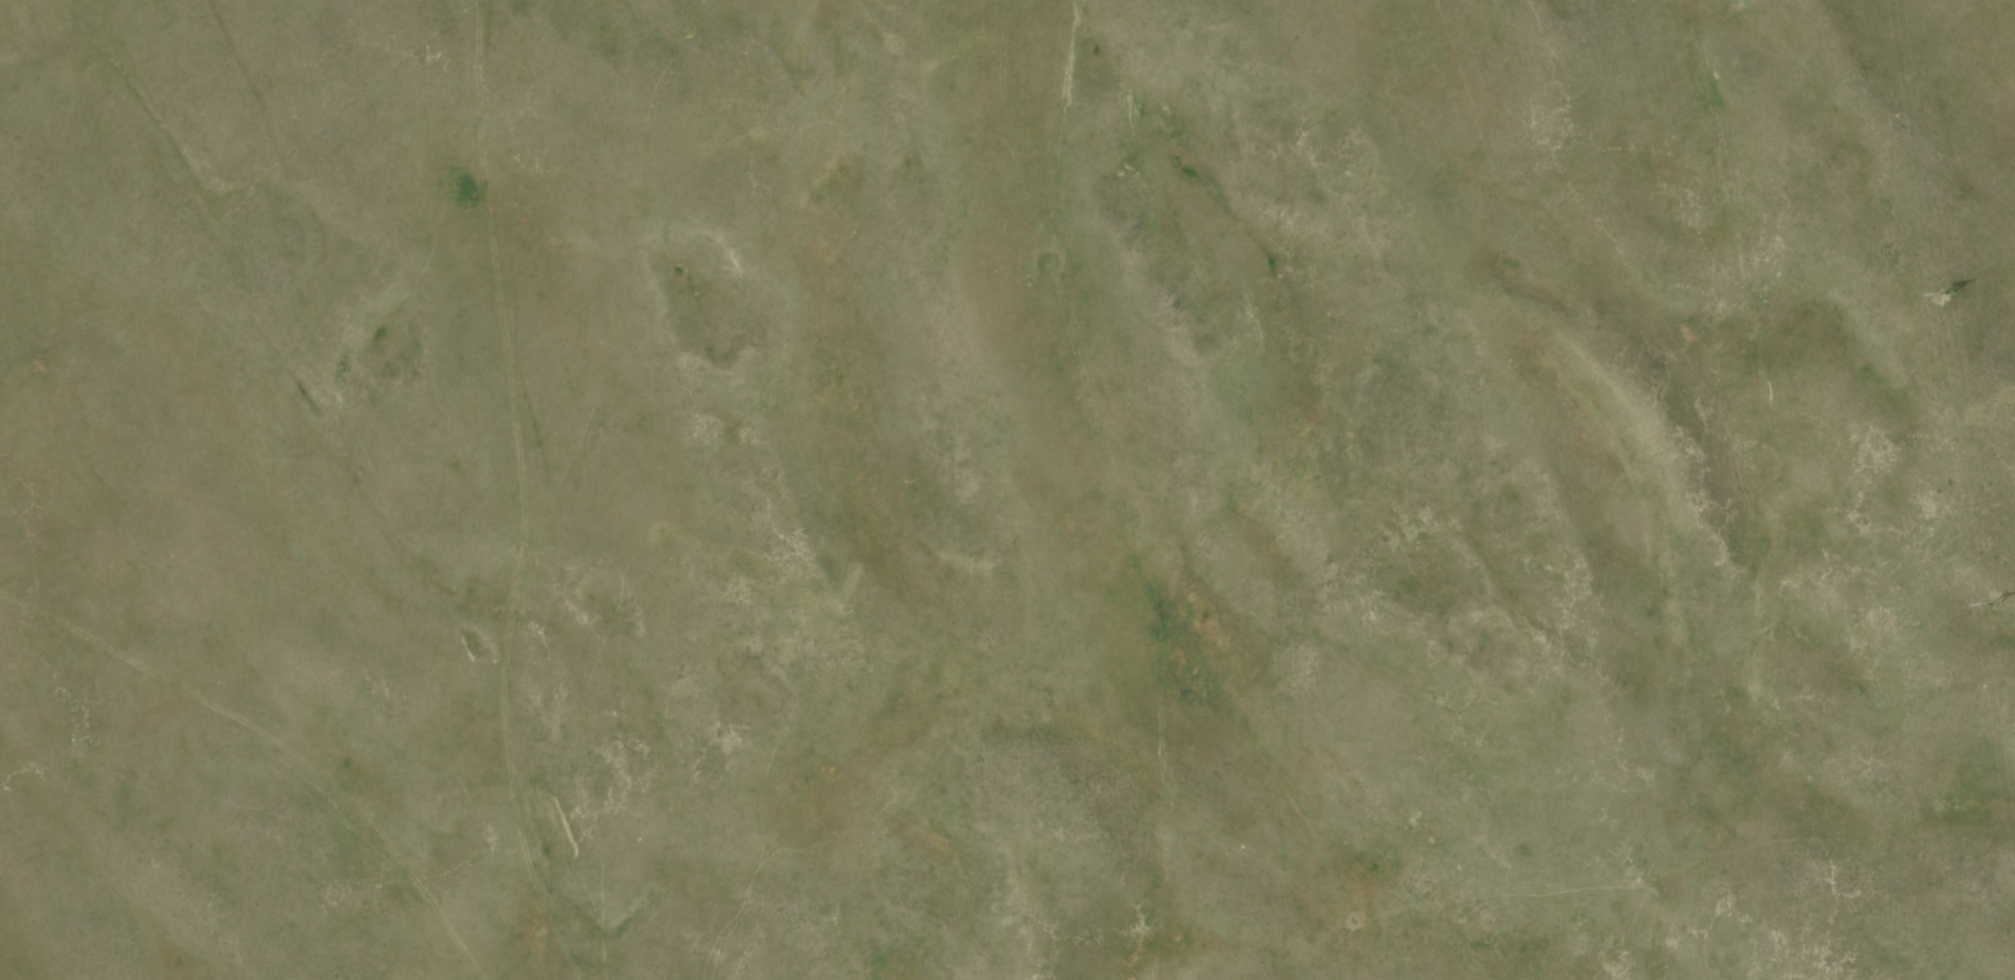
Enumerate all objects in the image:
power tower: (1946, 294)
power tower: (1993, 605)

